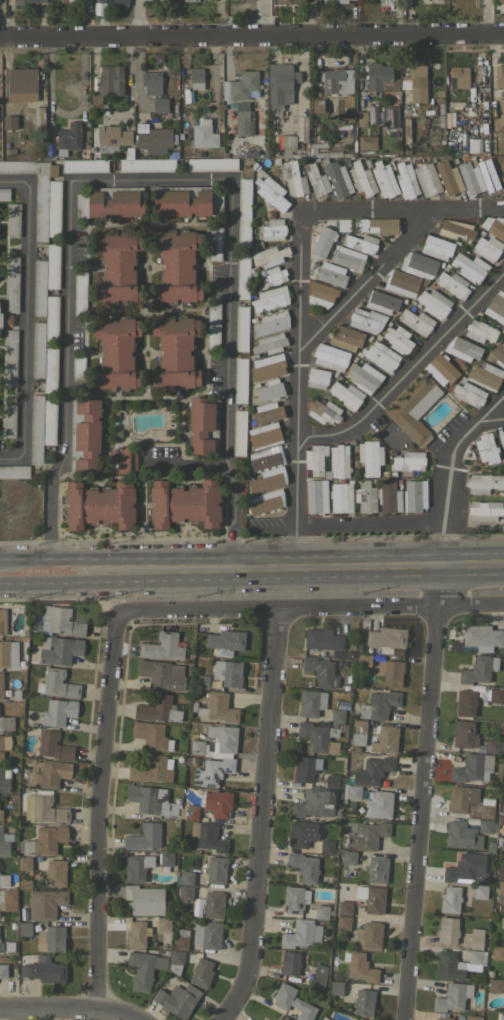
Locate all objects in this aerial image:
building: (67, 0)
building: (156, 0)
building: (190, 0)
building: (25, 1)
building: (114, 1)
building: (239, 1)
building: (288, 1)
building: (429, 1)
road: (486, 17)
road: (251, 35)
building: (499, 76)
building: (379, 77)
building: (458, 77)
building: (196, 78)
building: (111, 80)
building: (334, 80)
building: (152, 82)
building: (417, 83)
building: (22, 84)
building: (280, 84)
building: (240, 86)
building: (95, 100)
building: (159, 104)
building: (317, 104)
building: (391, 114)
building: (37, 116)
building: (362, 118)
building: (379, 118)
building: (243, 119)
building: (9, 122)
building: (404, 130)
building: (203, 133)
building: (68, 136)
building: (109, 139)
building: (155, 139)
building: (366, 141)
building: (211, 164)
building: (84, 165)
building: (146, 165)
building: (23, 166)
building: (503, 168)
building: (503, 171)
building: (491, 175)
road: (148, 178)
building: (293, 178)
building: (361, 178)
building: (426, 178)
building: (448, 178)
building: (470, 178)
building: (316, 179)
building: (338, 179)
building: (384, 179)
building: (406, 180)
building: (270, 190)
building: (4, 194)
building: (186, 201)
building: (110, 202)
building: (40, 206)
building: (54, 208)
building: (243, 211)
building: (13, 219)
building: (377, 225)
building: (500, 227)
building: (455, 229)
building: (273, 230)
building: (322, 241)
building: (215, 243)
building: (361, 243)
building: (437, 247)
building: (487, 247)
building: (268, 256)
building: (347, 258)
building: (418, 264)
building: (52, 266)
building: (177, 266)
building: (118, 267)
building: (469, 267)
building: (331, 273)
building: (242, 276)
building: (271, 277)
building: (401, 282)
road: (366, 283)
building: (12, 284)
road: (299, 284)
building: (453, 284)
building: (39, 287)
building: (322, 289)
building: (503, 289)
building: (80, 292)
building: (270, 298)
building: (381, 301)
building: (434, 302)
building: (496, 307)
building: (51, 317)
building: (5, 319)
road: (24, 319)
building: (366, 320)
building: (416, 321)
building: (271, 322)
building: (213, 324)
building: (241, 328)
building: (480, 330)
building: (346, 338)
building: (396, 339)
building: (269, 343)
building: (37, 349)
building: (462, 349)
building: (175, 352)
building: (116, 353)
building: (498, 353)
building: (380, 355)
building: (330, 356)
building: (10, 357)
building: (268, 364)
road: (409, 367)
building: (445, 368)
building: (50, 370)
building: (77, 370)
building: (317, 377)
building: (364, 377)
building: (240, 380)
building: (477, 383)
building: (270, 390)
building: (346, 395)
building: (414, 408)
building: (323, 411)
building: (267, 412)
road: (492, 416)
building: (9, 420)
building: (49, 422)
building: (202, 425)
building: (36, 428)
building: (239, 432)
building: (264, 435)
building: (85, 436)
building: (501, 437)
building: (486, 448)
building: (370, 456)
building: (265, 457)
building: (124, 459)
building: (315, 459)
building: (339, 461)
building: (408, 461)
road: (450, 462)
road: (142, 467)
building: (14, 471)
building: (268, 479)
building: (484, 482)
building: (414, 495)
building: (365, 496)
building: (389, 496)
building: (317, 497)
building: (341, 497)
building: (265, 501)
building: (184, 503)
building: (99, 505)
building: (484, 510)
road: (336, 524)
road: (472, 551)
road: (245, 555)
road: (25, 557)
road: (439, 563)
road: (51, 571)
road: (251, 579)
road: (312, 607)
building: (2, 621)
building: (60, 621)
building: (33, 625)
building: (481, 637)
building: (386, 638)
building: (322, 639)
building: (225, 641)
building: (162, 646)
building: (59, 649)
building: (502, 650)
building: (398, 651)
building: (8, 653)
building: (363, 661)
building: (478, 669)
building: (320, 671)
building: (227, 672)
building: (390, 672)
building: (162, 674)
building: (348, 678)
building: (202, 681)
building: (211, 683)
building: (218, 683)
building: (57, 684)
building: (1, 686)
building: (495, 695)
building: (311, 702)
building: (465, 702)
building: (193, 705)
building: (379, 705)
building: (218, 707)
building: (159, 708)
building: (57, 711)
building: (336, 716)
building: (6, 723)
building: (501, 725)
building: (343, 727)
building: (358, 732)
building: (463, 733)
building: (151, 735)
building: (318, 736)
building: (385, 739)
building: (216, 742)
building: (4, 743)
building: (494, 744)
building: (53, 746)
building: (480, 747)
building: (353, 748)
building: (191, 760)
building: (502, 760)
building: (168, 763)
building: (473, 767)
building: (151, 769)
building: (303, 769)
building: (373, 770)
building: (212, 771)
building: (49, 773)
building: (4, 778)
building: (331, 781)
building: (353, 791)
road: (425, 797)
building: (457, 799)
building: (151, 800)
building: (216, 802)
building: (315, 803)
building: (380, 804)
building: (44, 807)
building: (503, 807)
road: (101, 809)
building: (482, 809)
building: (337, 810)
building: (189, 812)
building: (1, 816)
road: (263, 816)
building: (499, 819)
building: (487, 826)
building: (503, 829)
building: (301, 833)
building: (367, 835)
building: (460, 835)
building: (208, 836)
building: (143, 837)
building: (5, 841)
building: (43, 841)
building: (499, 841)
building: (326, 846)
building: (348, 857)
building: (165, 858)
building: (24, 863)
building: (303, 866)
building: (137, 867)
building: (464, 867)
building: (376, 869)
building: (216, 870)
building: (55, 872)
building: (500, 872)
building: (186, 877)
building: (481, 878)
building: (4, 879)
building: (324, 879)
building: (480, 891)
building: (499, 891)
building: (183, 893)
building: (295, 898)
building: (371, 898)
building: (9, 899)
building: (144, 899)
building: (450, 899)
building: (45, 903)
building: (209, 905)
building: (344, 907)
building: (321, 912)
building: (24, 913)
building: (343, 922)
building: (163, 923)
building: (12, 925)
building: (0, 929)
building: (24, 929)
building: (447, 930)
building: (301, 933)
building: (136, 934)
building: (207, 934)
building: (369, 935)
building: (54, 938)
building: (476, 938)
building: (181, 939)
building: (503, 942)
building: (8, 946)
building: (497, 952)
building: (475, 960)
building: (176, 961)
building: (291, 962)
building: (448, 965)
building: (360, 967)
building: (143, 969)
building: (3, 970)
building: (44, 970)
building: (201, 972)
building: (319, 976)
building: (350, 985)
building: (495, 985)
building: (336, 987)
building: (452, 997)
building: (177, 999)
building: (293, 1001)
building: (364, 1002)
road: (63, 1007)
building: (501, 1016)
building: (471, 1017)
building: (320, 1018)
building: (444, 1018)
building: (277, 1019)
building: (283, 1019)
building: (353, 1019)

